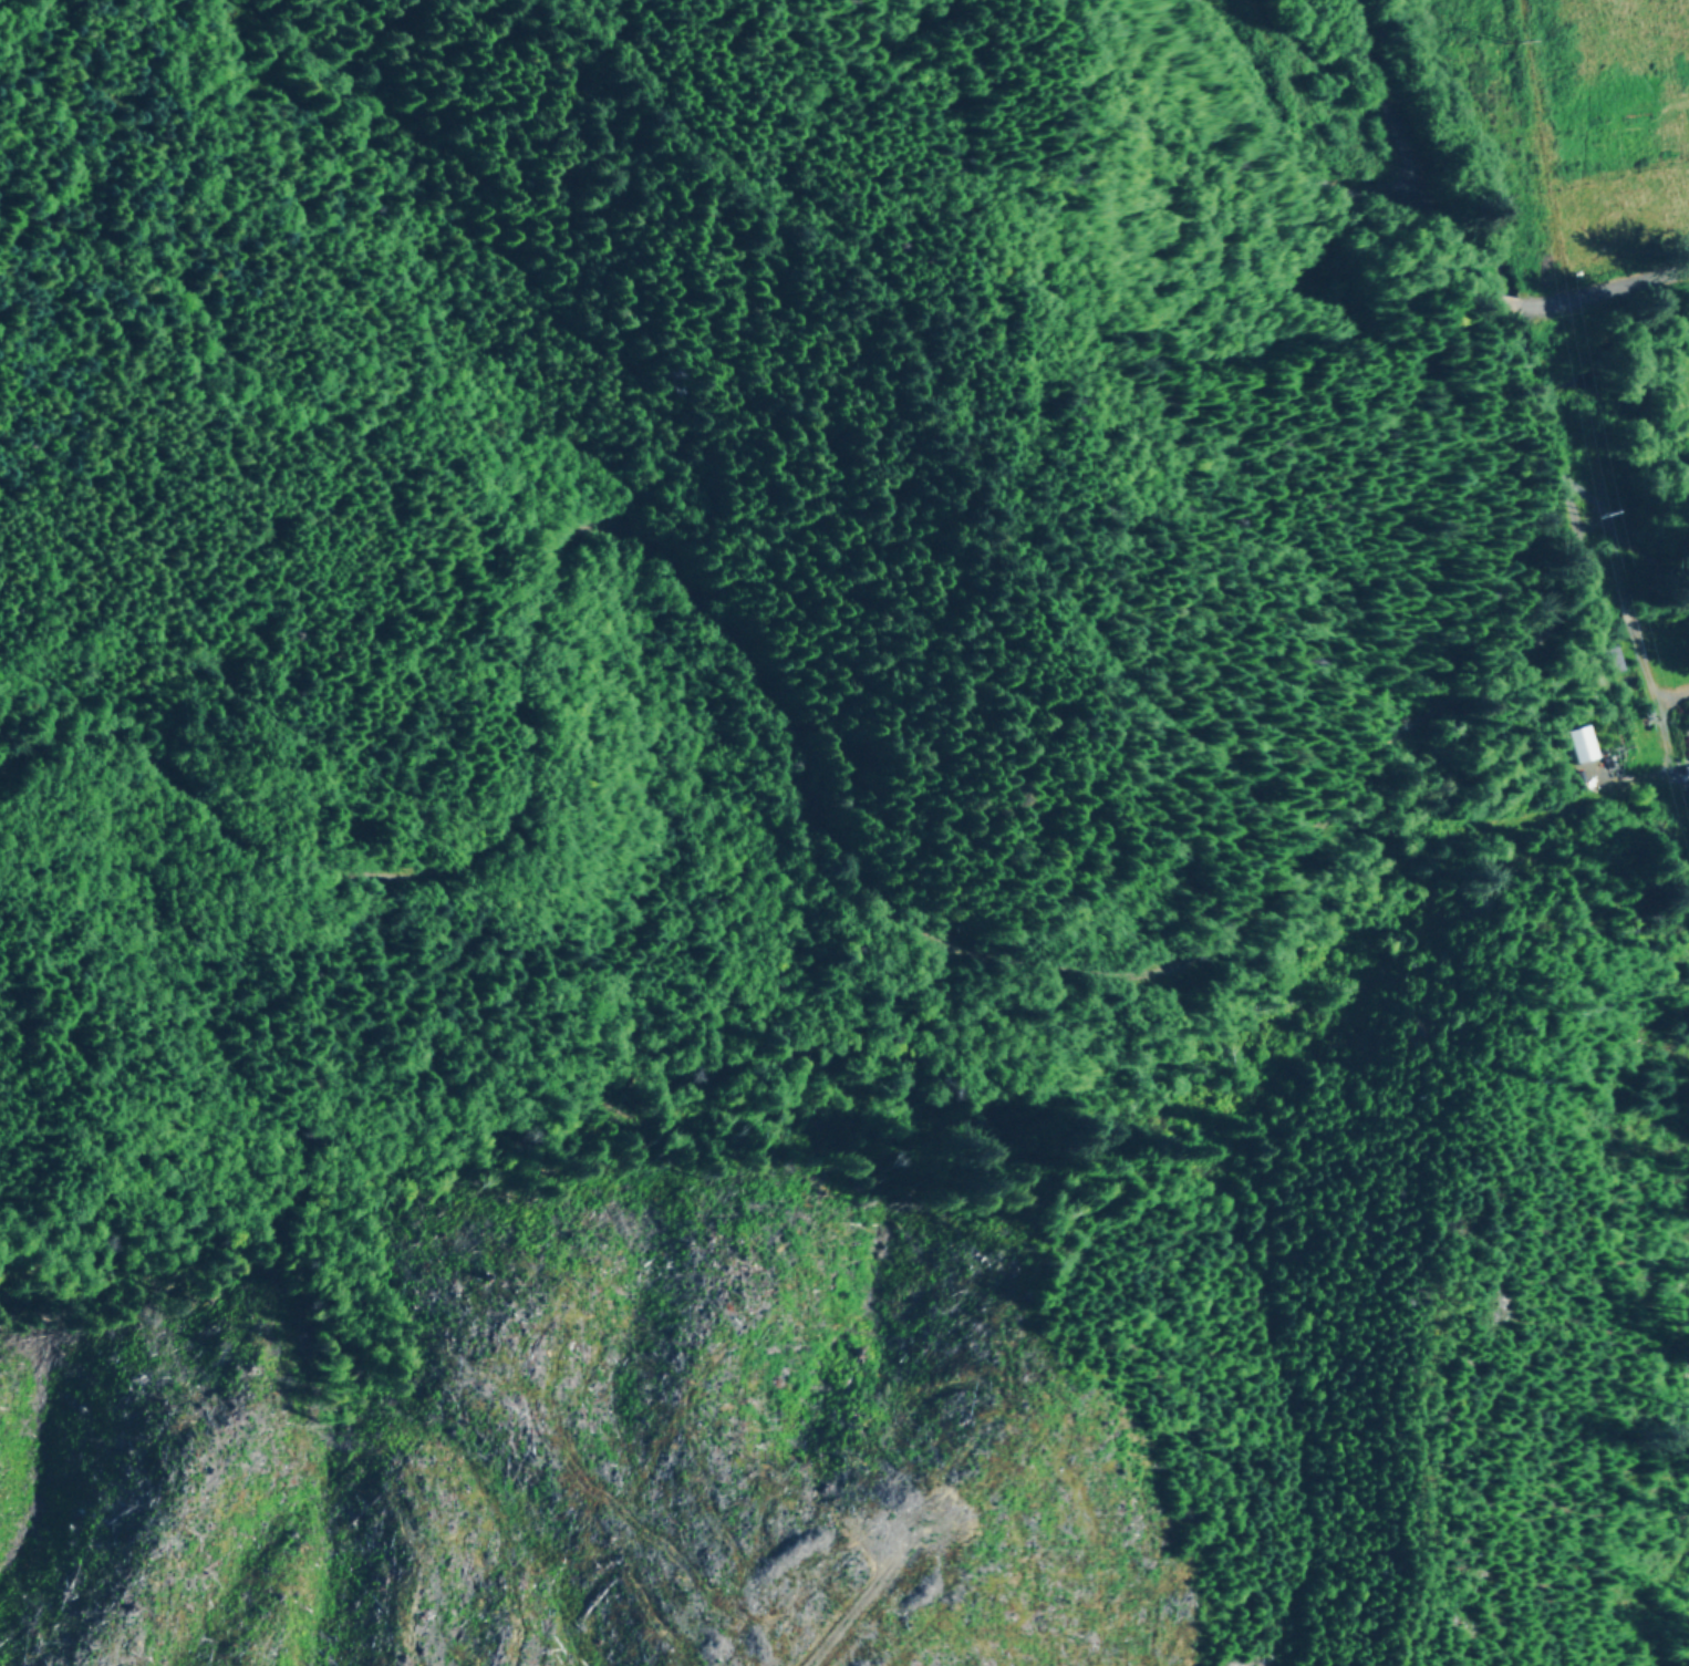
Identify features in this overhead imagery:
road: (1289, 153)
road: (1408, 159)
road: (1627, 282)
road: (1543, 299)
road: (1510, 300)
road: (1517, 389)
road: (1587, 495)
road: (1630, 609)
road: (1672, 691)
road: (802, 708)
building: (1579, 741)
road: (1672, 747)
road: (1419, 1465)
road: (863, 1607)

